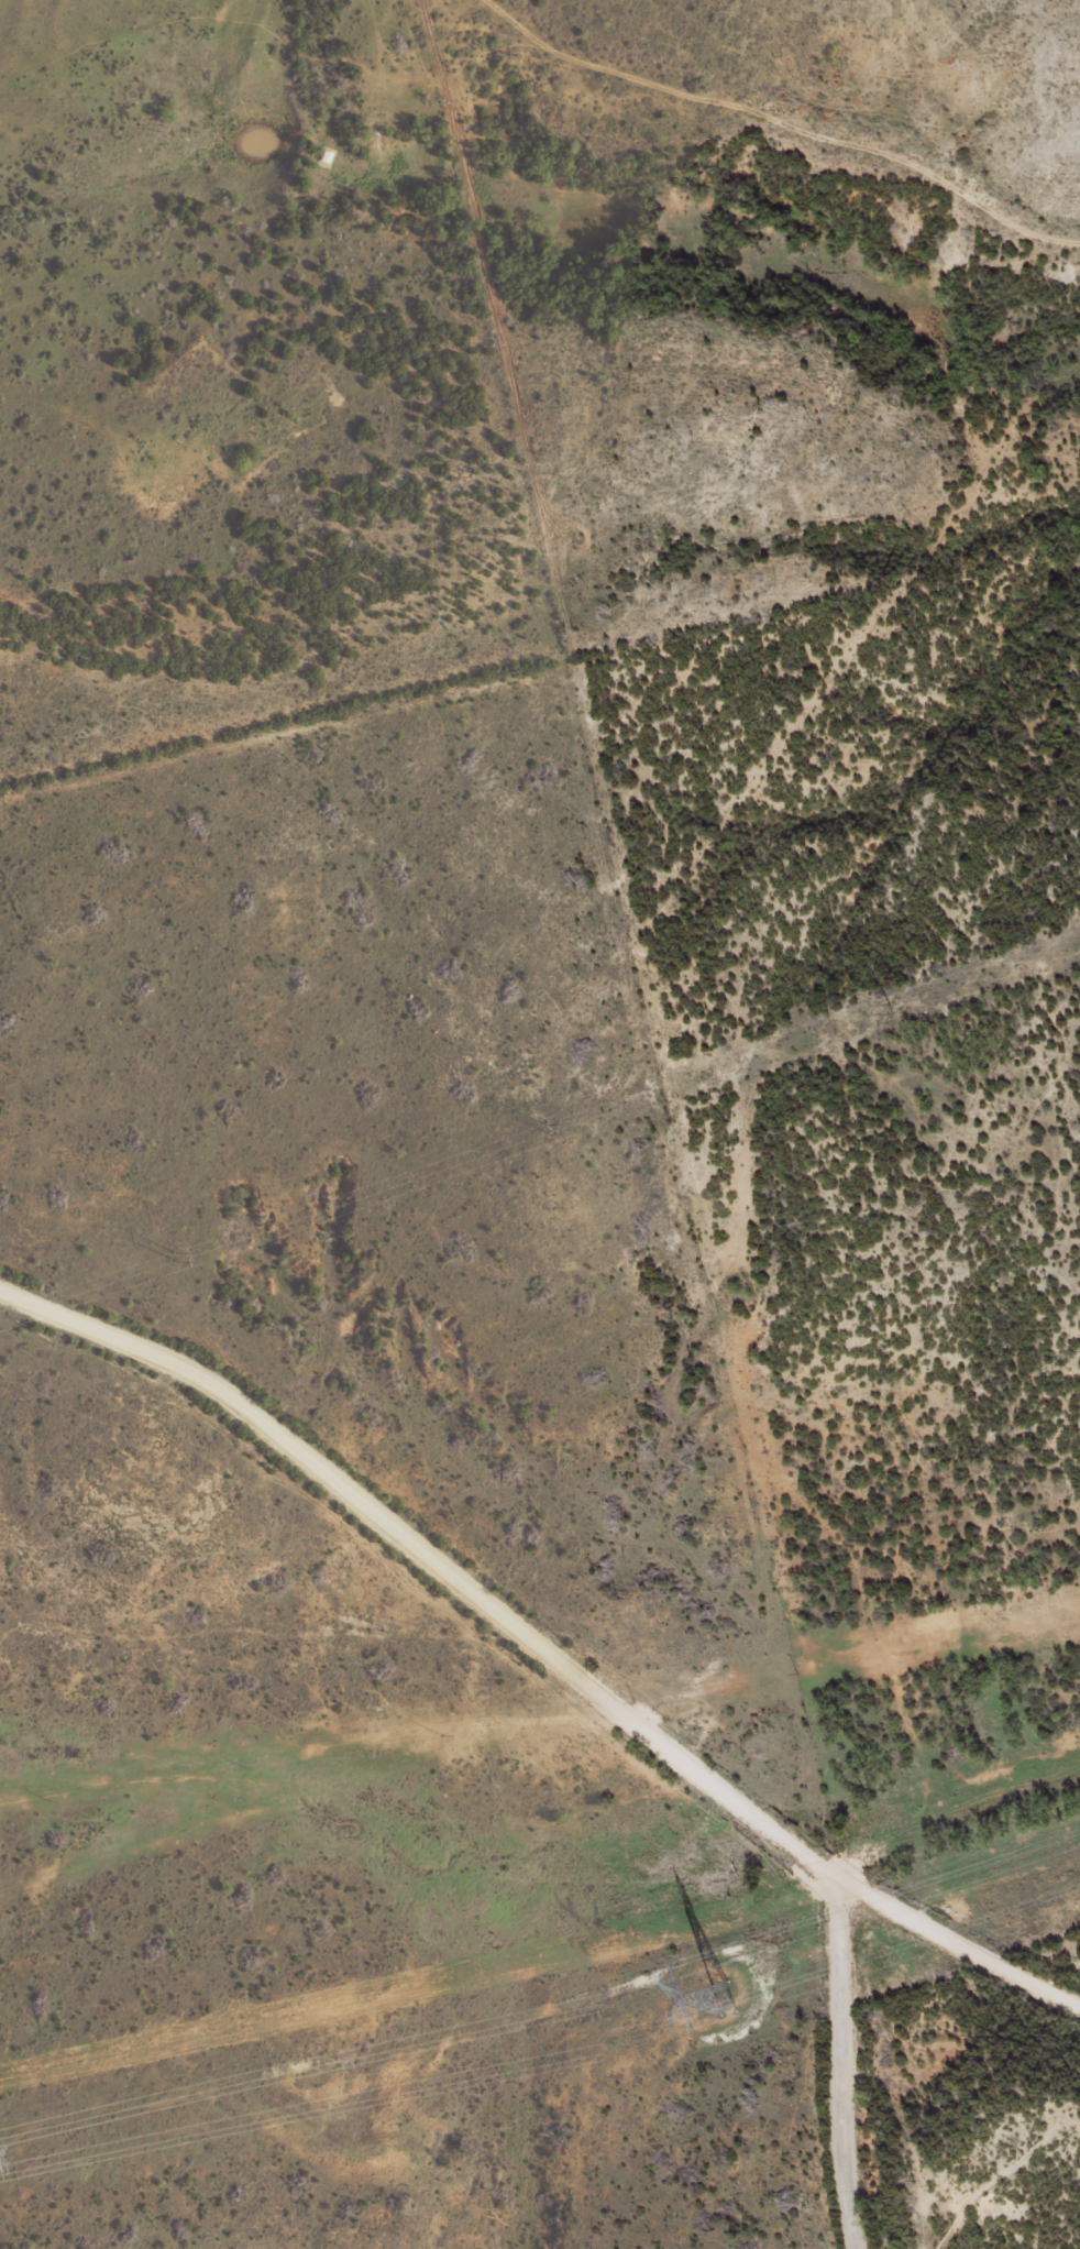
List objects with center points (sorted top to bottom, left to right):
power tower: (892, 1007)
power tower: (548, 1128)
power tower: (176, 1254)
road: (533, 1660)
power tower: (716, 1999)
road: (836, 2064)

